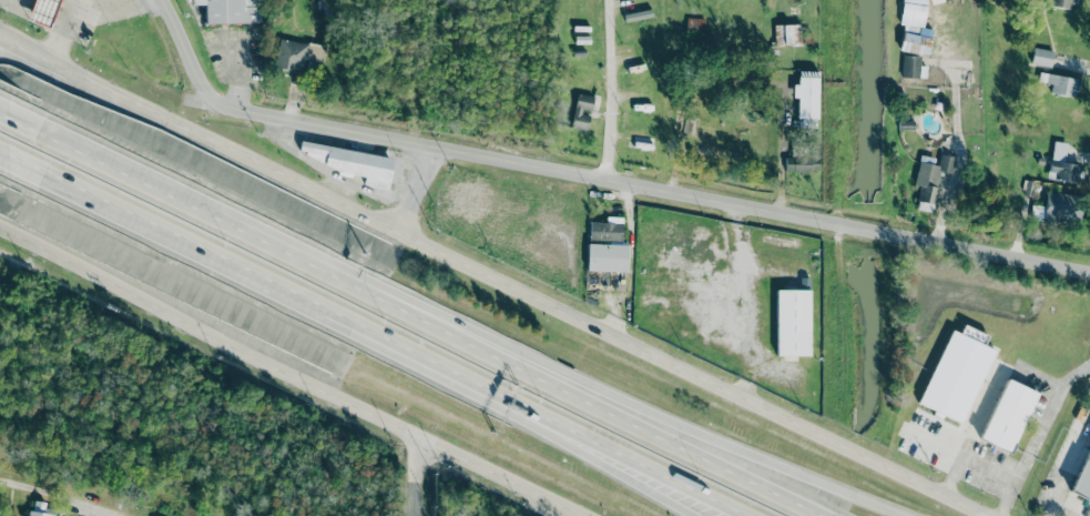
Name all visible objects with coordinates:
building: (1059, 2)
road: (82, 7)
building: (230, 10)
building: (42, 11)
building: (636, 14)
building: (694, 24)
building: (914, 28)
building: (786, 33)
road: (34, 53)
building: (297, 54)
building: (1041, 57)
building: (911, 67)
building: (1058, 82)
road: (609, 90)
building: (805, 98)
building: (581, 110)
road: (19, 121)
road: (298, 153)
road: (21, 160)
building: (804, 160)
building: (1061, 162)
building: (353, 163)
road: (128, 174)
road: (594, 178)
building: (929, 178)
road: (412, 189)
road: (366, 190)
building: (1058, 208)
building: (605, 229)
road: (182, 237)
building: (605, 256)
road: (527, 295)
building: (792, 322)
road: (370, 328)
road: (523, 366)
road: (292, 372)
building: (956, 372)
building: (1007, 415)
road: (1047, 418)
road: (560, 434)
road: (591, 434)
road: (712, 441)
road: (962, 456)
road: (415, 475)
road: (953, 475)
building: (1083, 478)
road: (55, 499)
road: (1008, 499)
building: (40, 509)
building: (152, 510)

